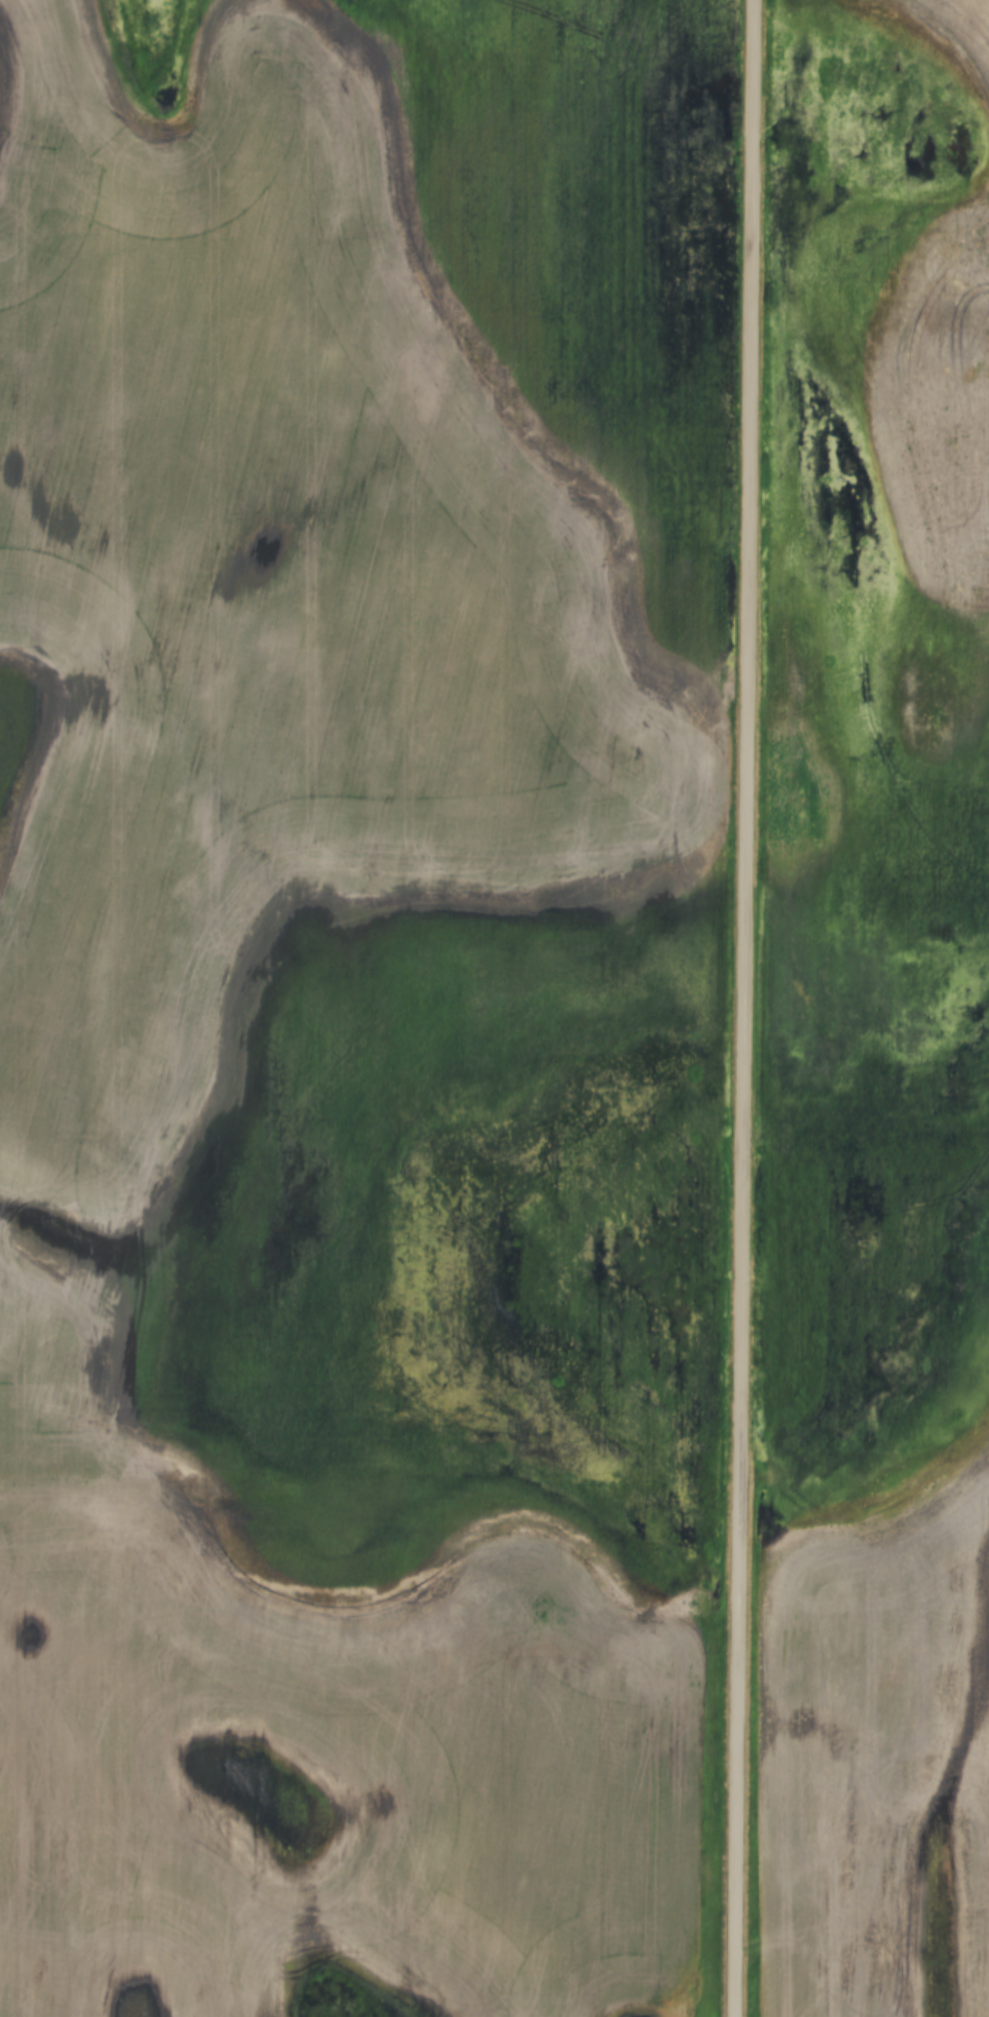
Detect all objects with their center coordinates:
road: (740, 1008)

